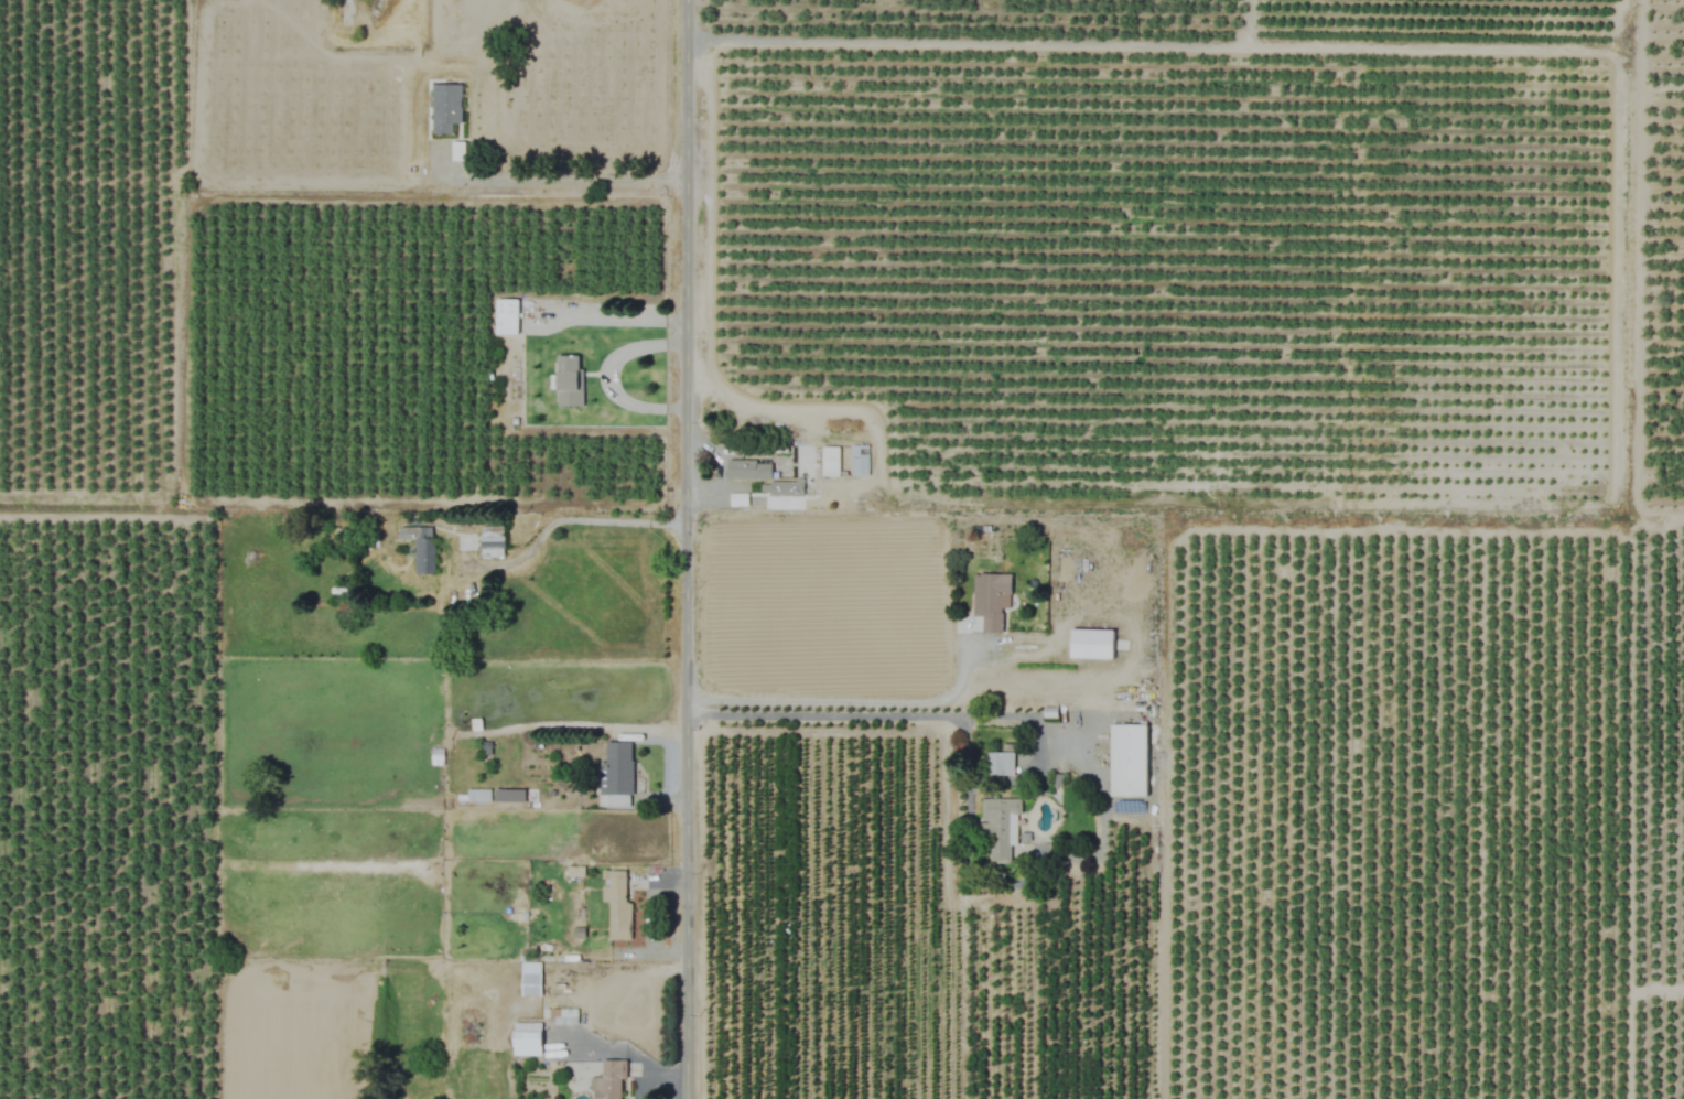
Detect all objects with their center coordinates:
building: (445, 107)
road: (574, 176)
building: (568, 380)
building: (859, 460)
building: (830, 461)
building: (756, 470)
building: (786, 488)
building: (490, 542)
building: (420, 548)
road: (687, 549)
building: (991, 600)
building: (1091, 644)
road: (842, 699)
road: (857, 715)
building: (1129, 759)
building: (1000, 764)
building: (616, 774)
building: (508, 795)
building: (998, 830)
road: (1044, 862)
building: (617, 905)
building: (530, 985)
building: (526, 1038)
building: (611, 1080)

